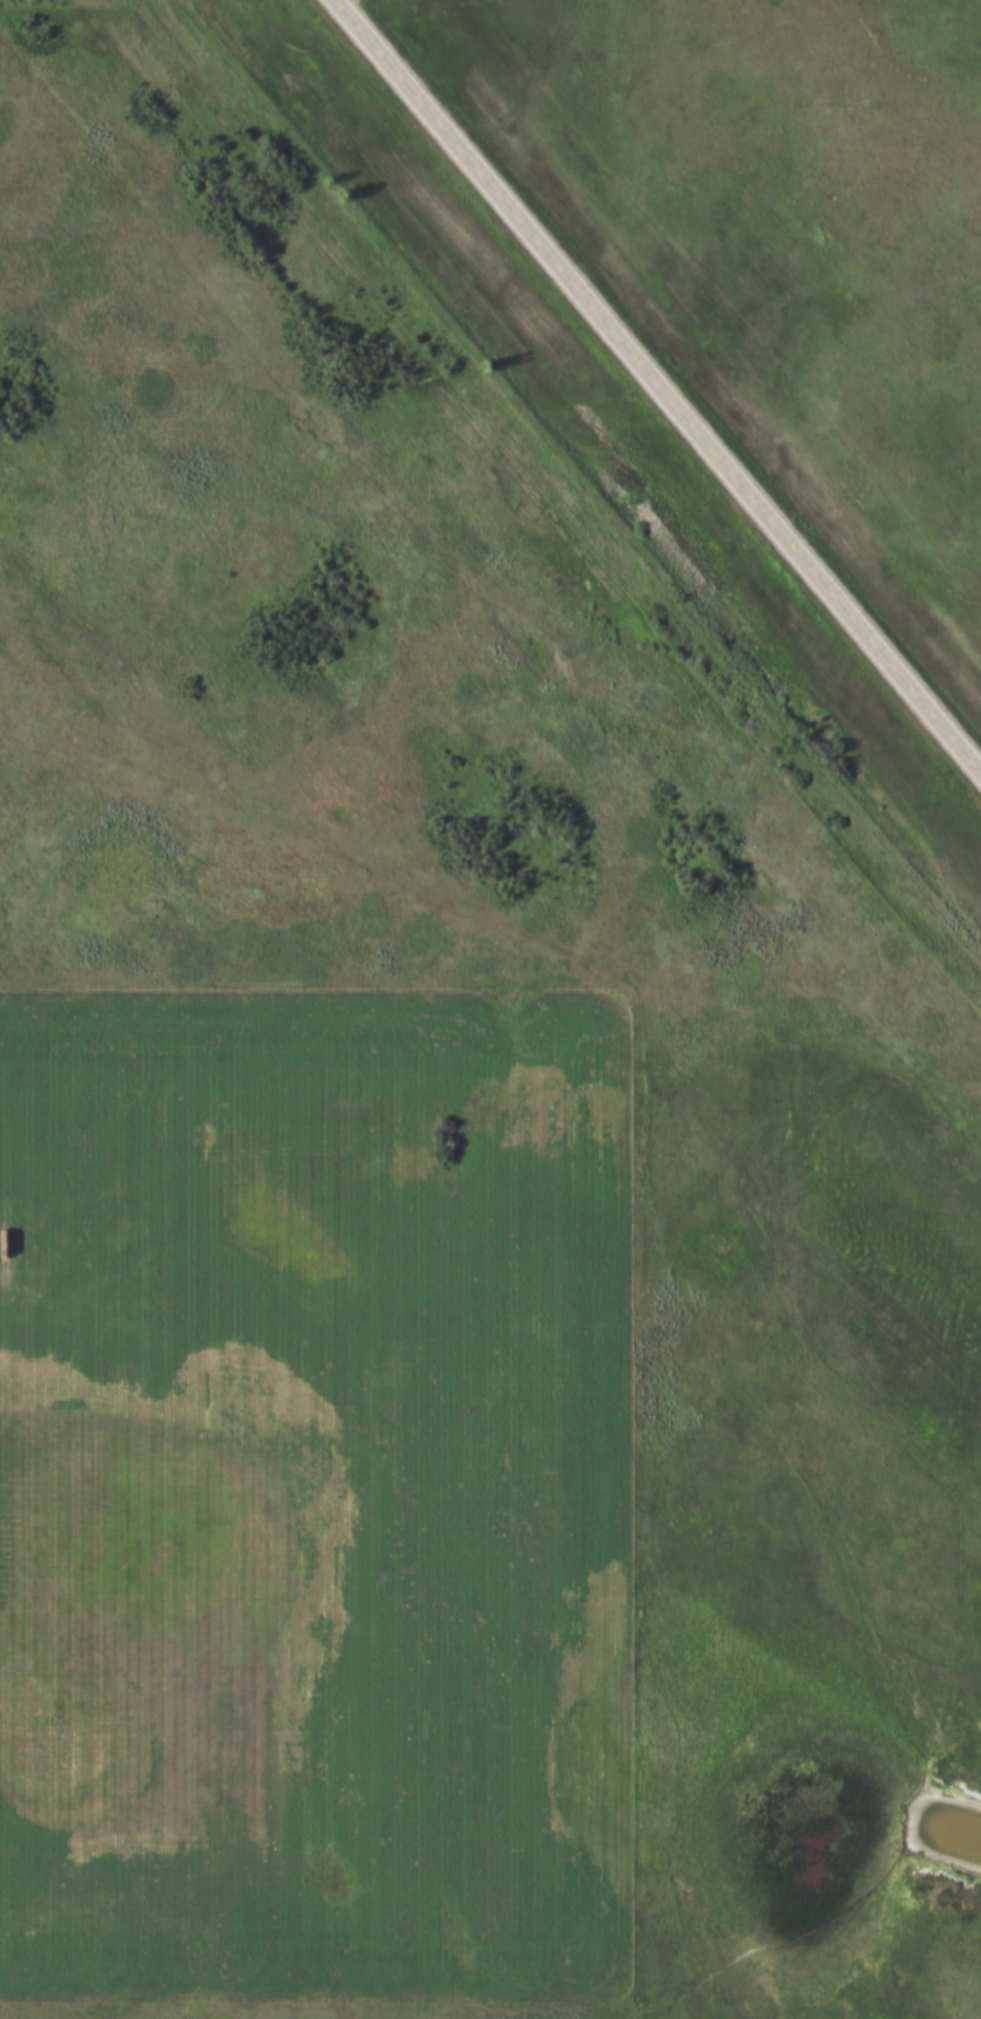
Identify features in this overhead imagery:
road: (660, 383)

